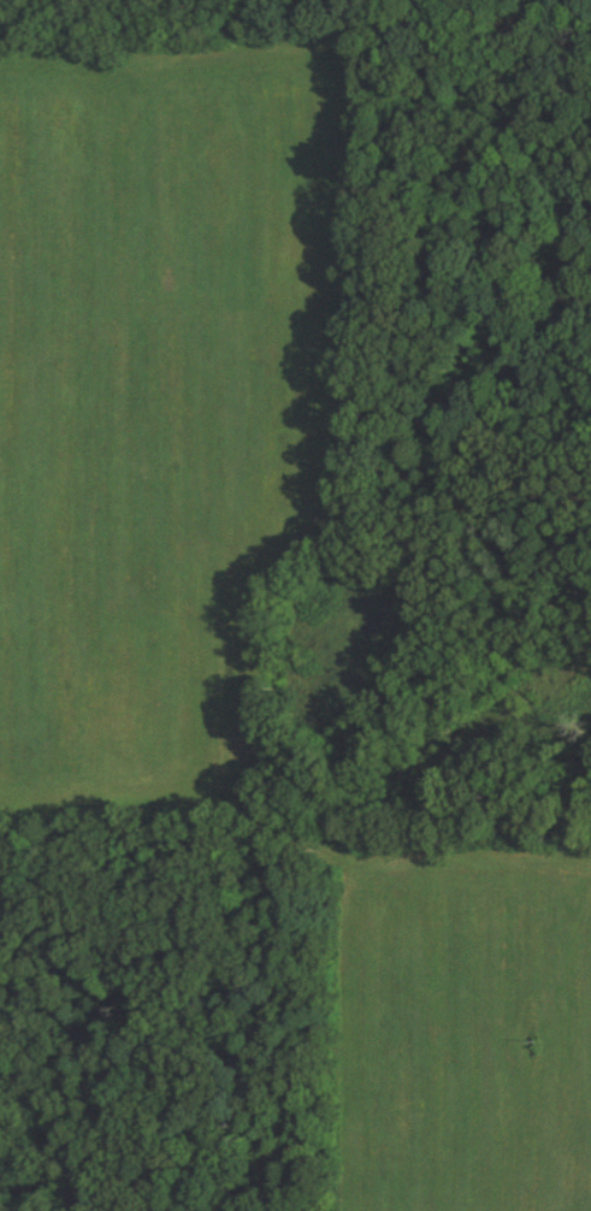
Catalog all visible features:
road: (148, 78)

